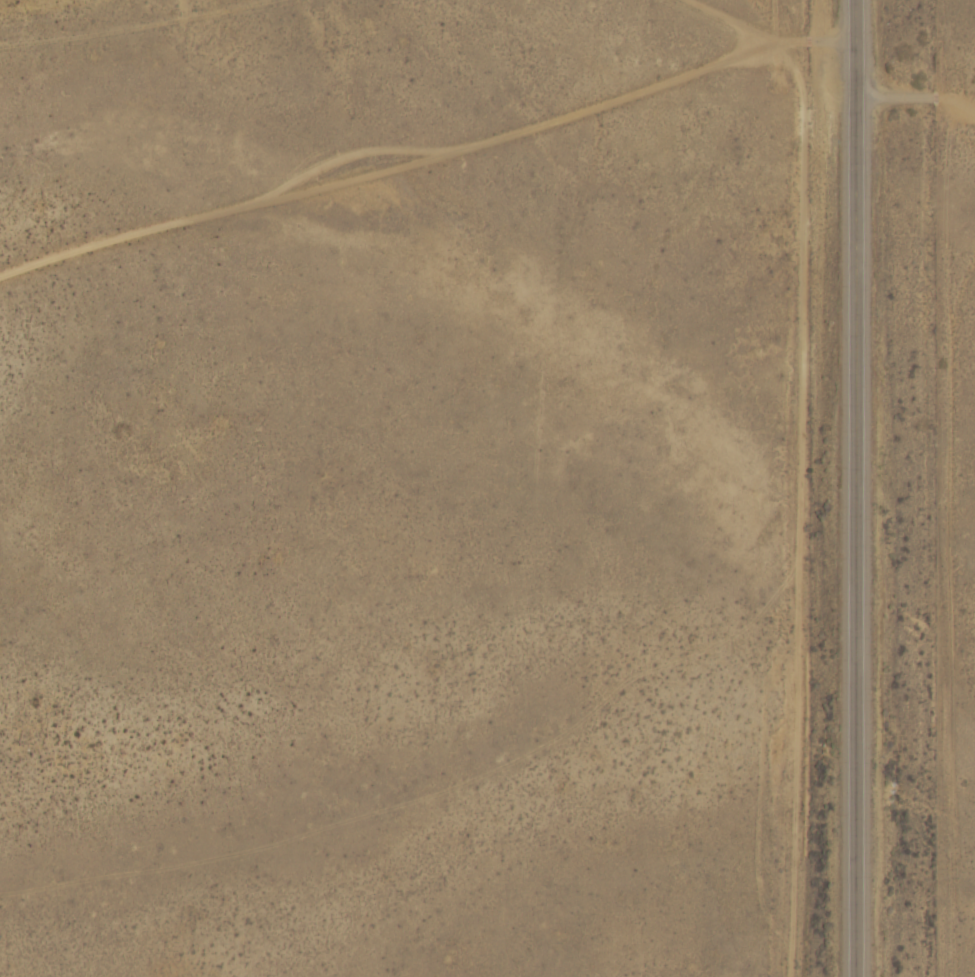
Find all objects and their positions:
road: (428, 80)
road: (916, 87)
road: (861, 488)

